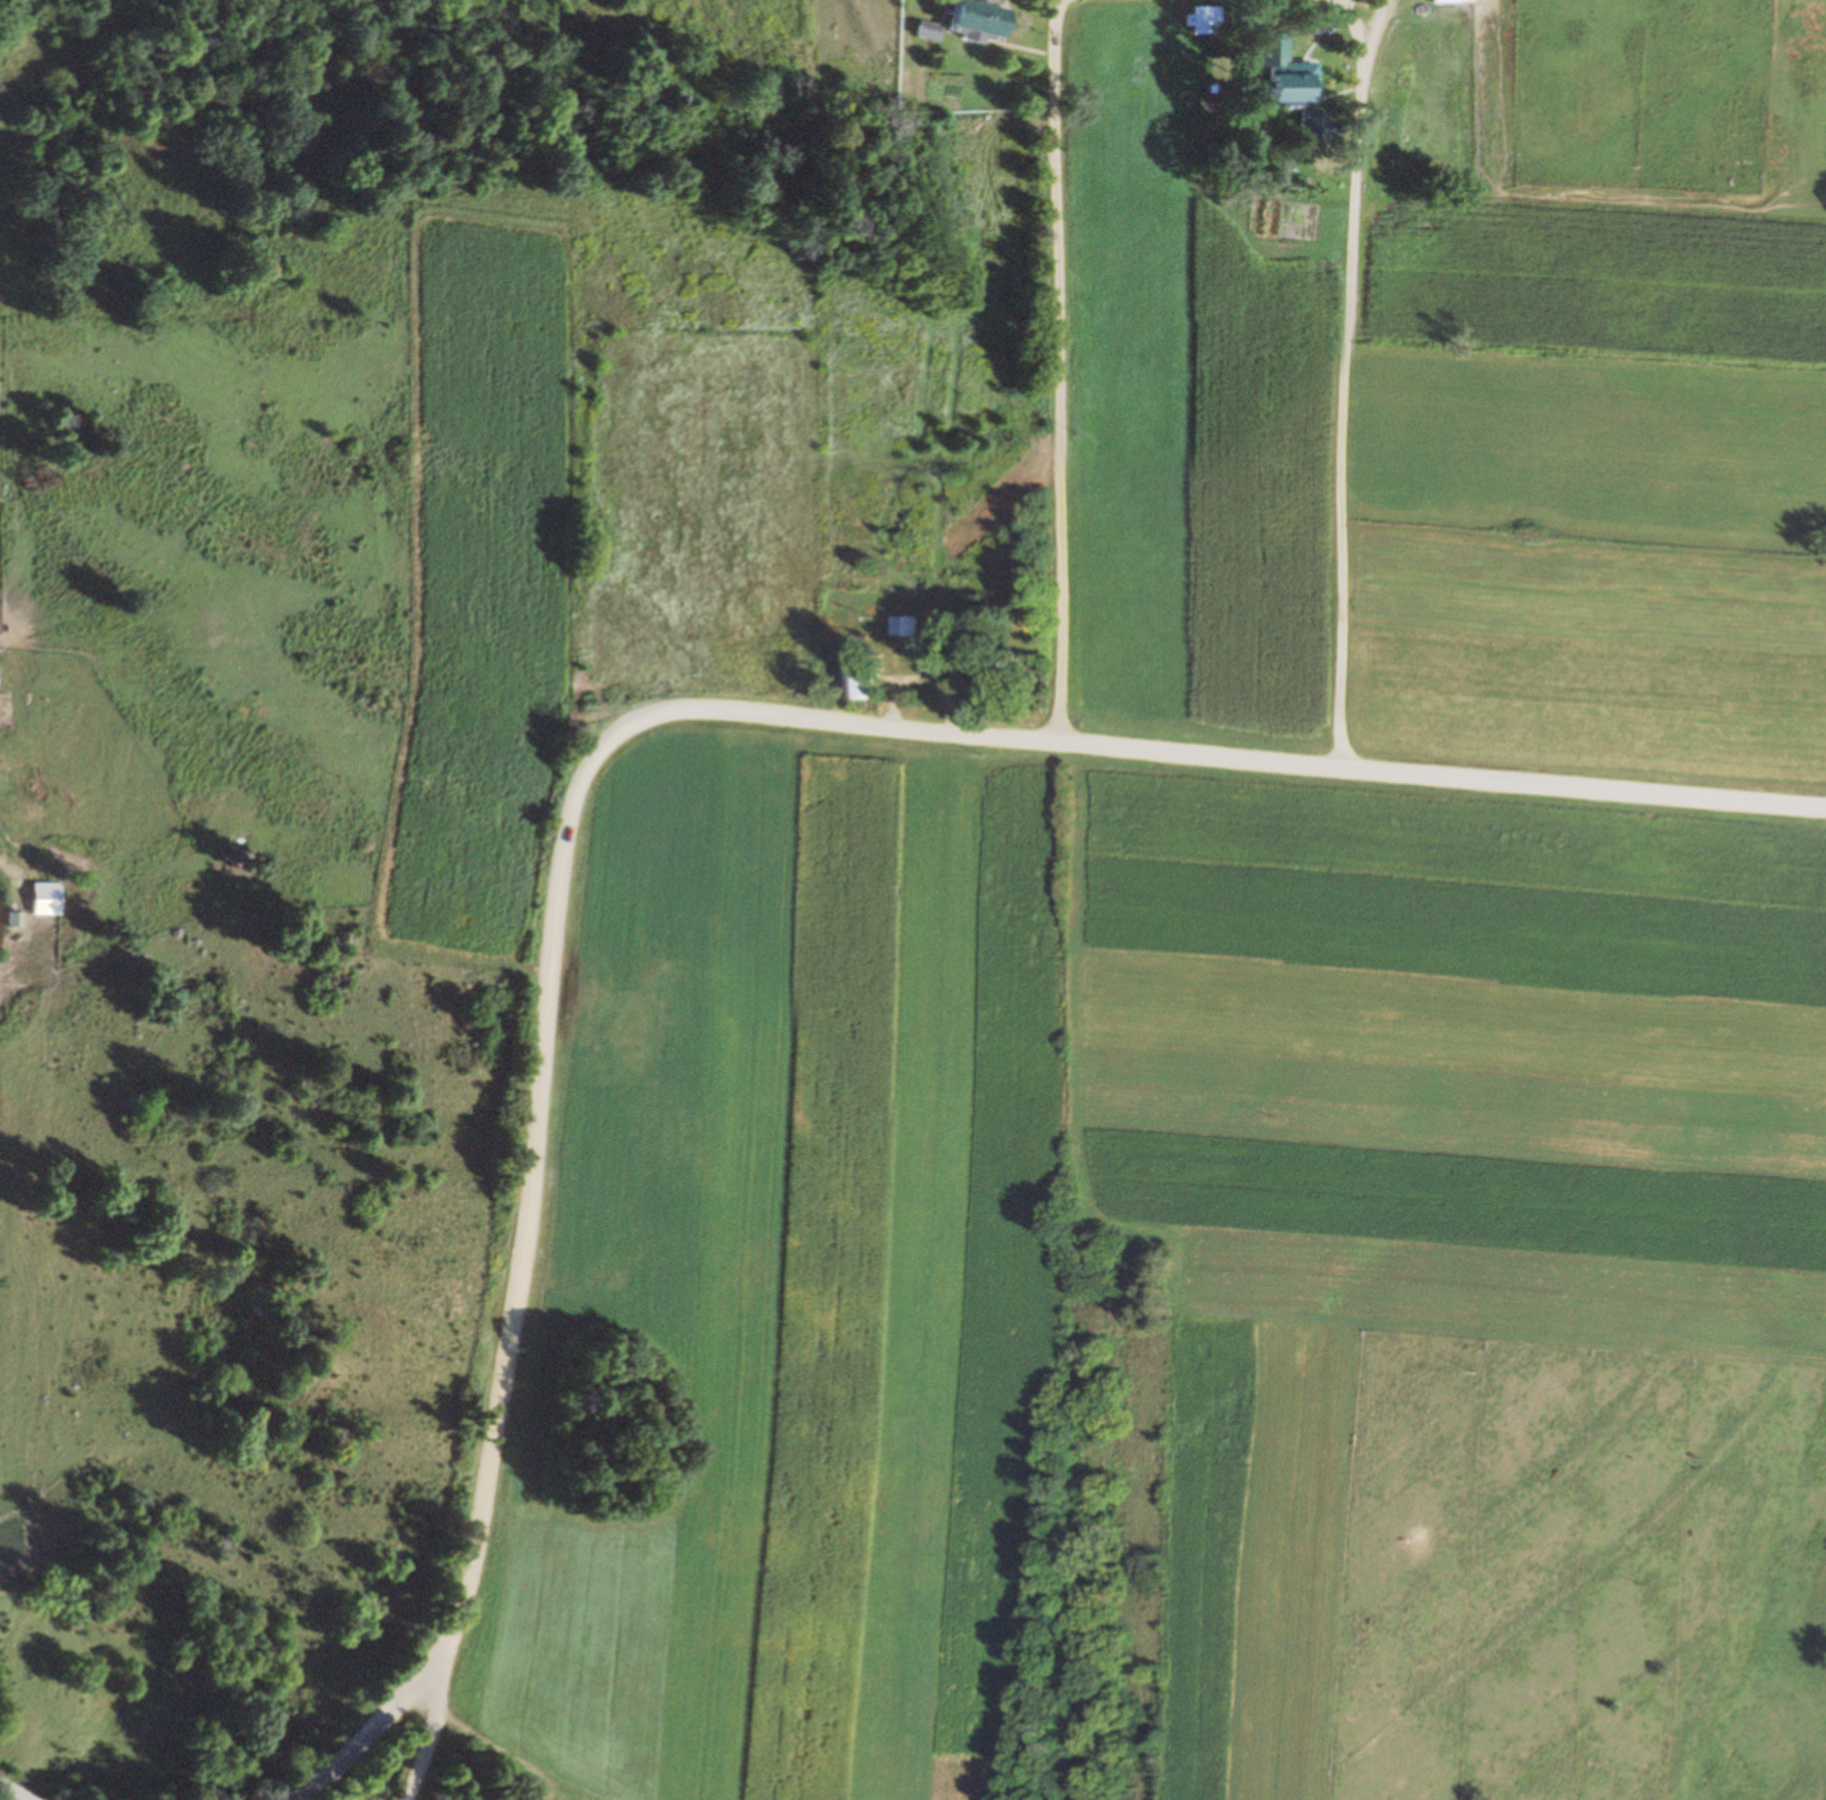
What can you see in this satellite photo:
building: (1446, 2)
building: (958, 22)
building: (1279, 90)
building: (1303, 131)
building: (1384, 156)
road: (1039, 372)
road: (1362, 379)
building: (899, 626)
building: (857, 676)
road: (679, 717)
building: (42, 898)
road: (380, 1727)
road: (296, 1793)
road: (7, 1795)
road: (406, 1795)

